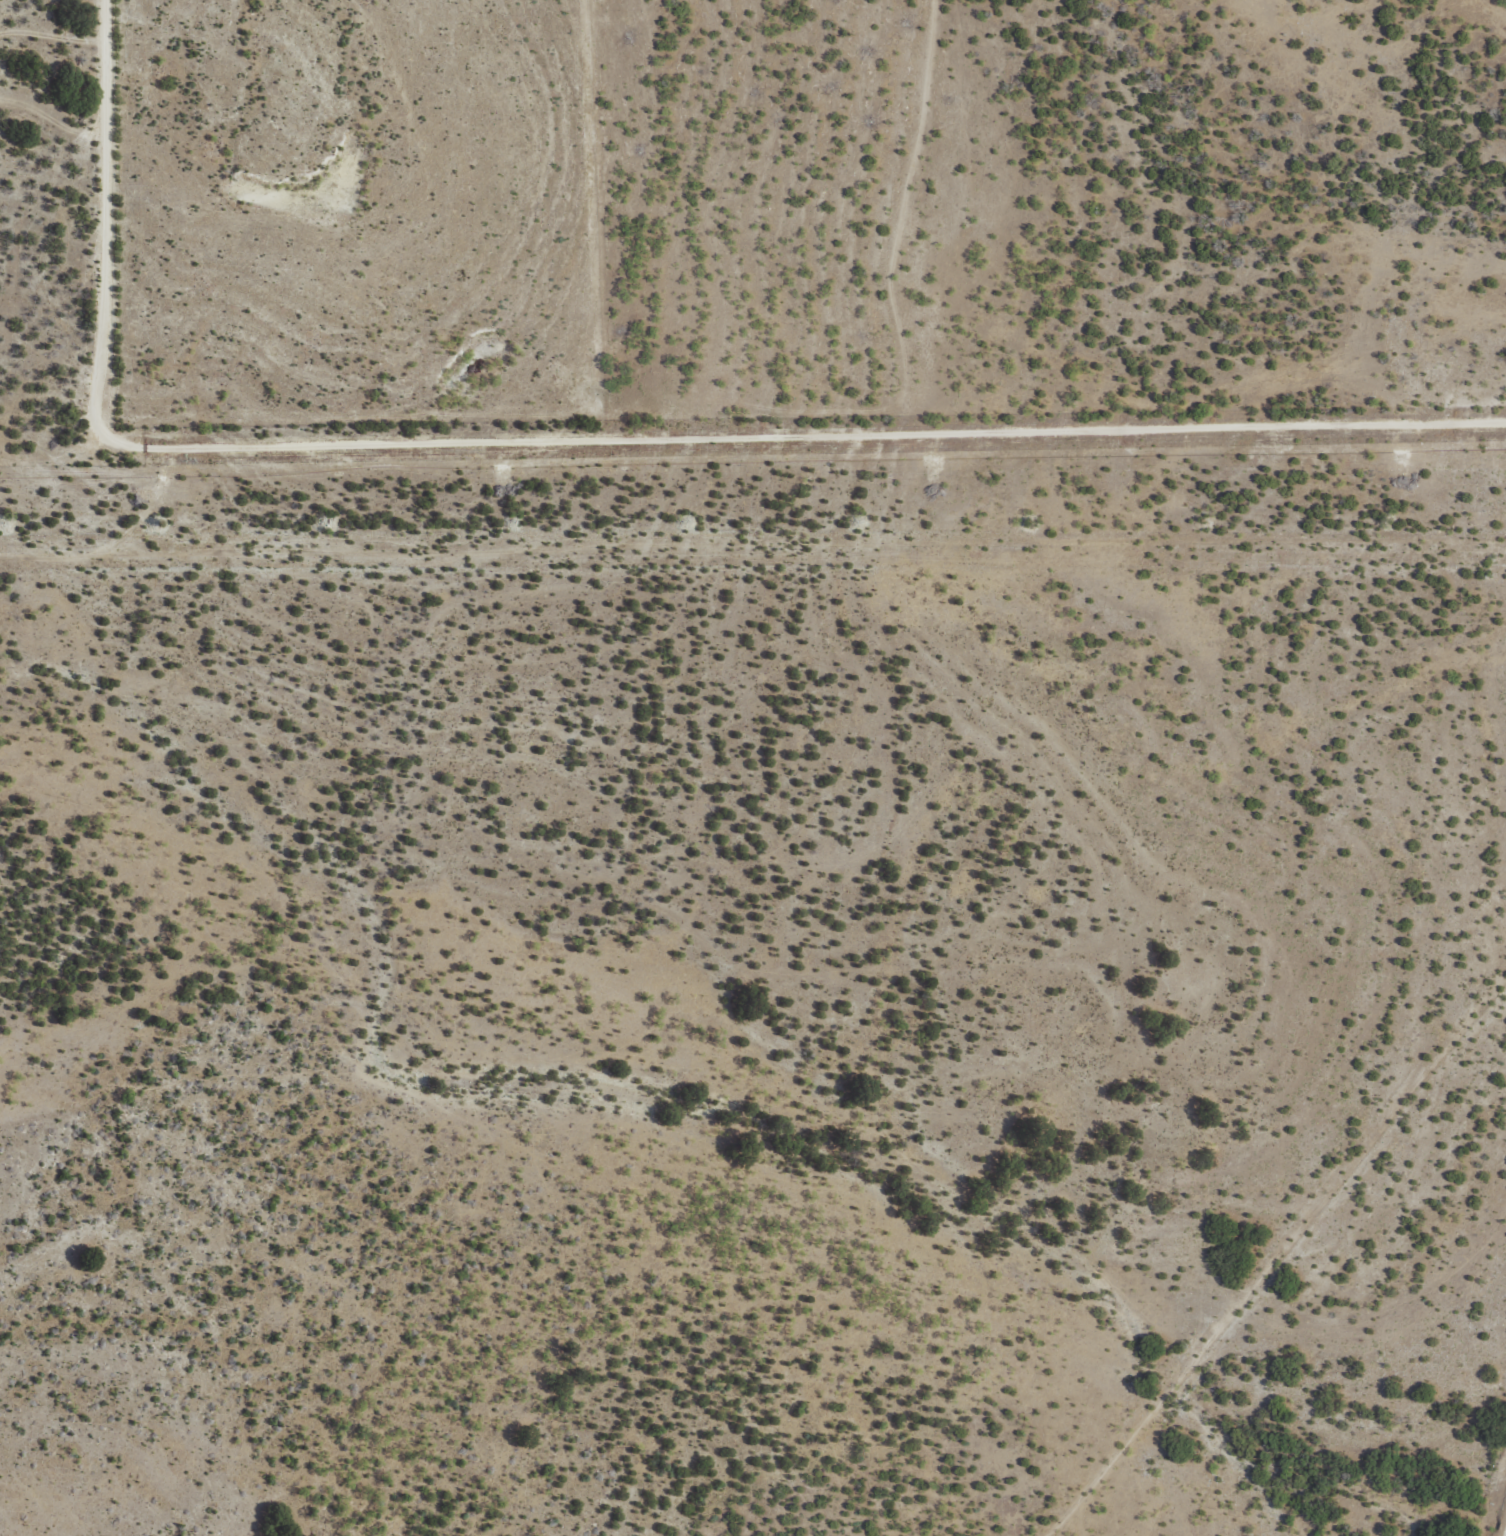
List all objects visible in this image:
road: (594, 430)
road: (104, 508)
road: (1268, 1220)

